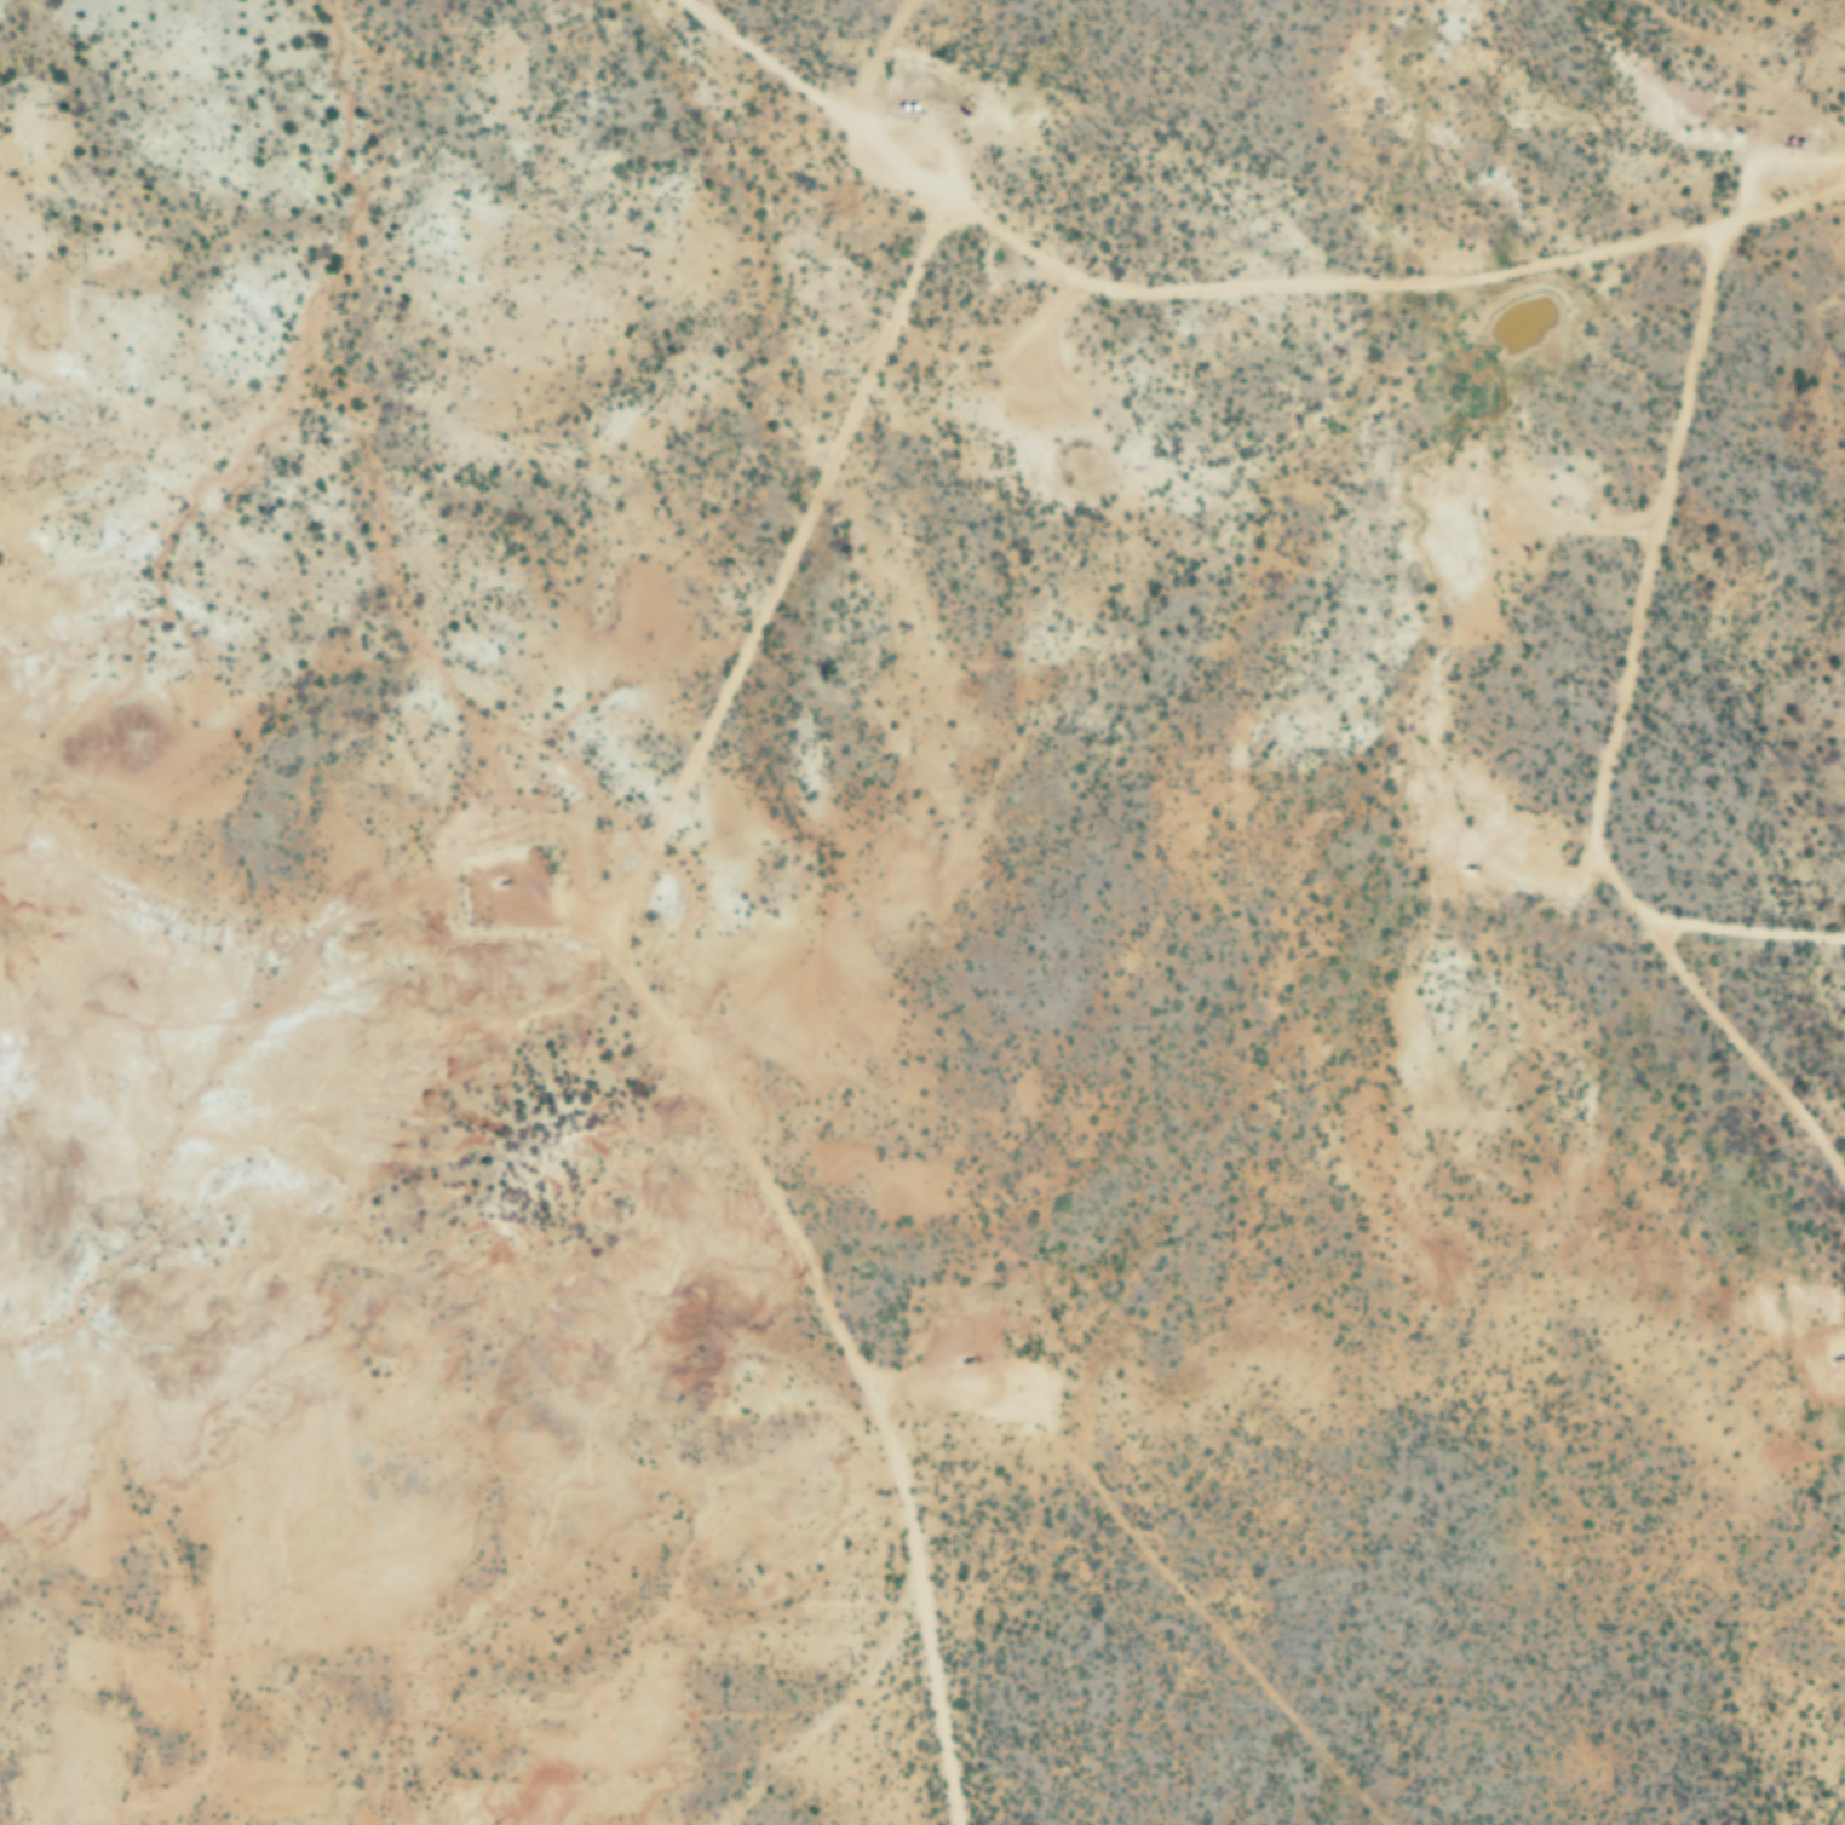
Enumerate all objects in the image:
road: (1205, 310)

